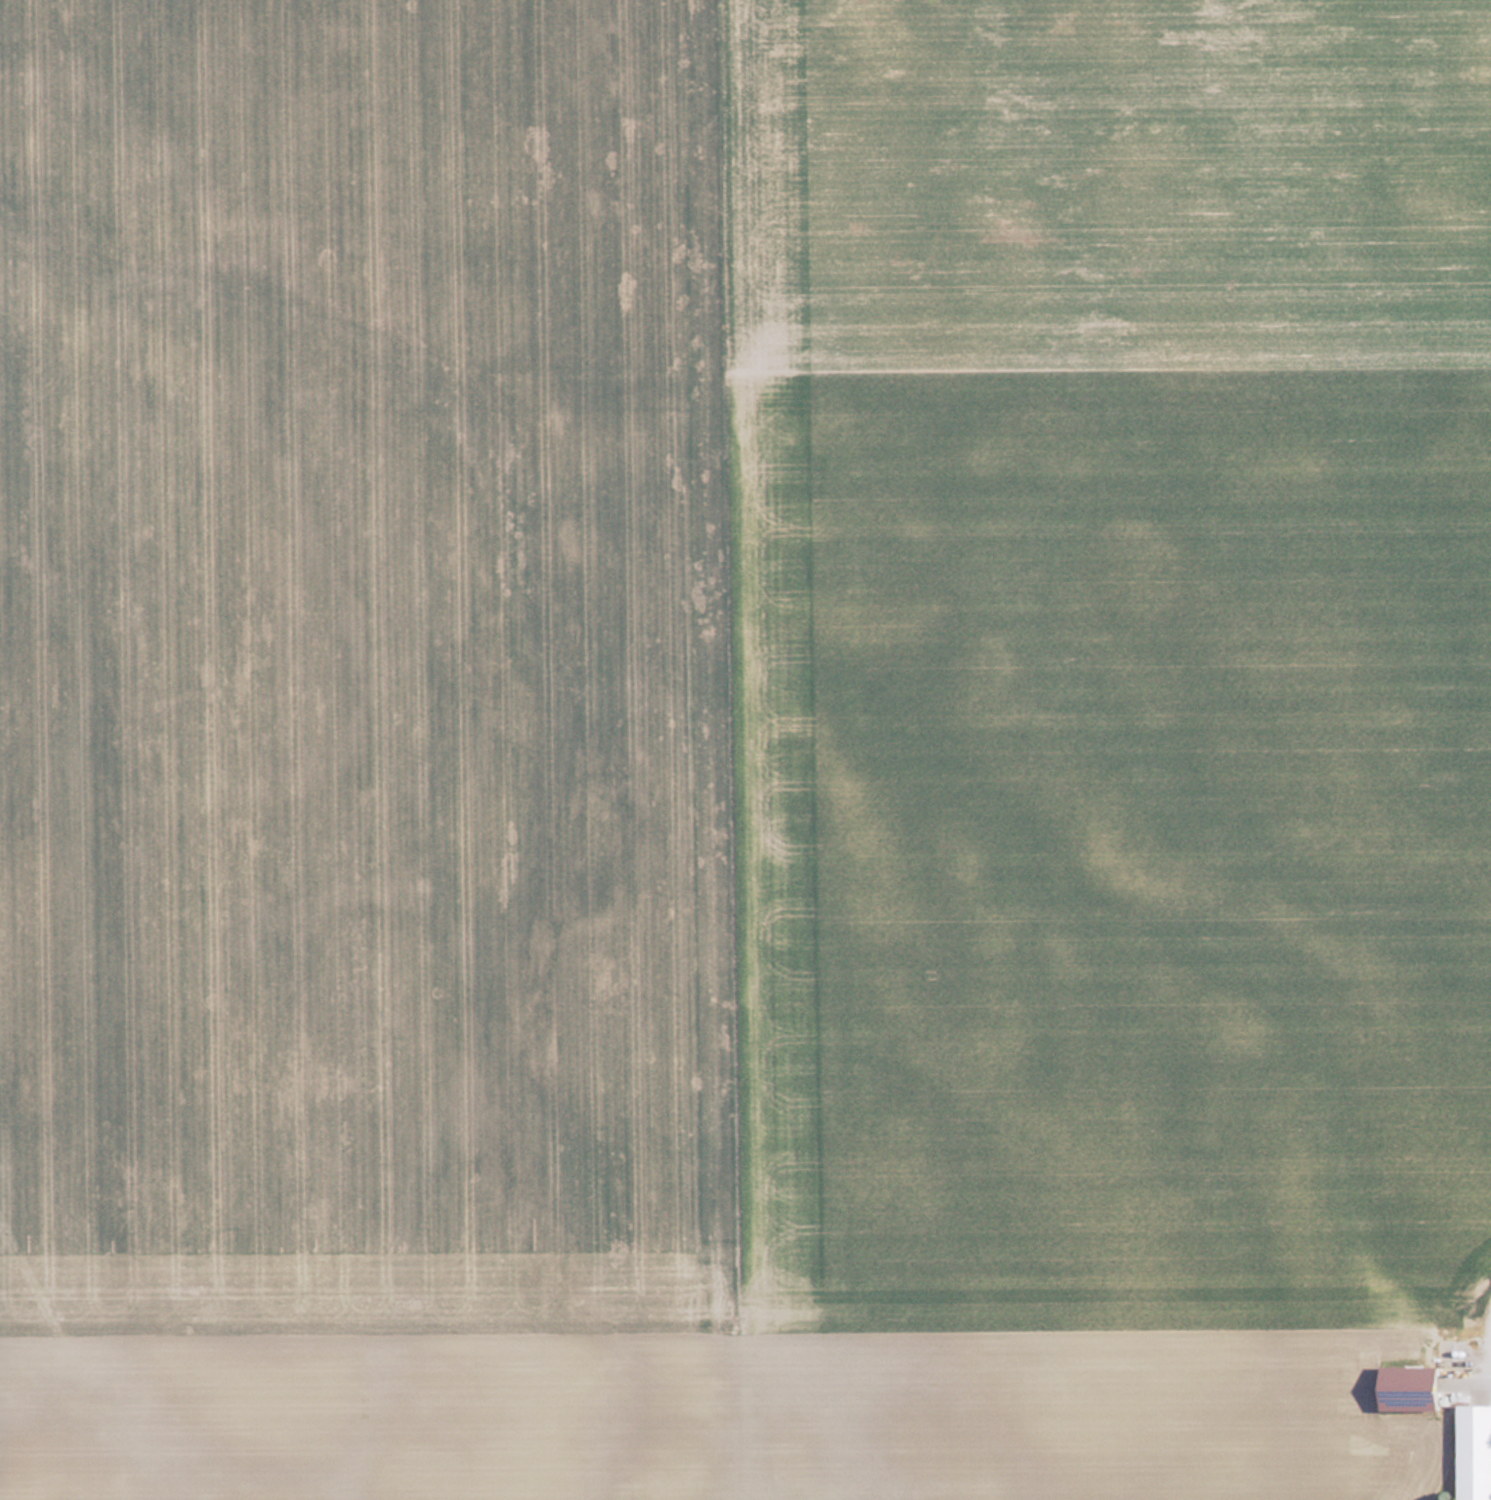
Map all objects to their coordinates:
building: (1464, 1355)
building: (1406, 1388)
building: (1472, 1452)

